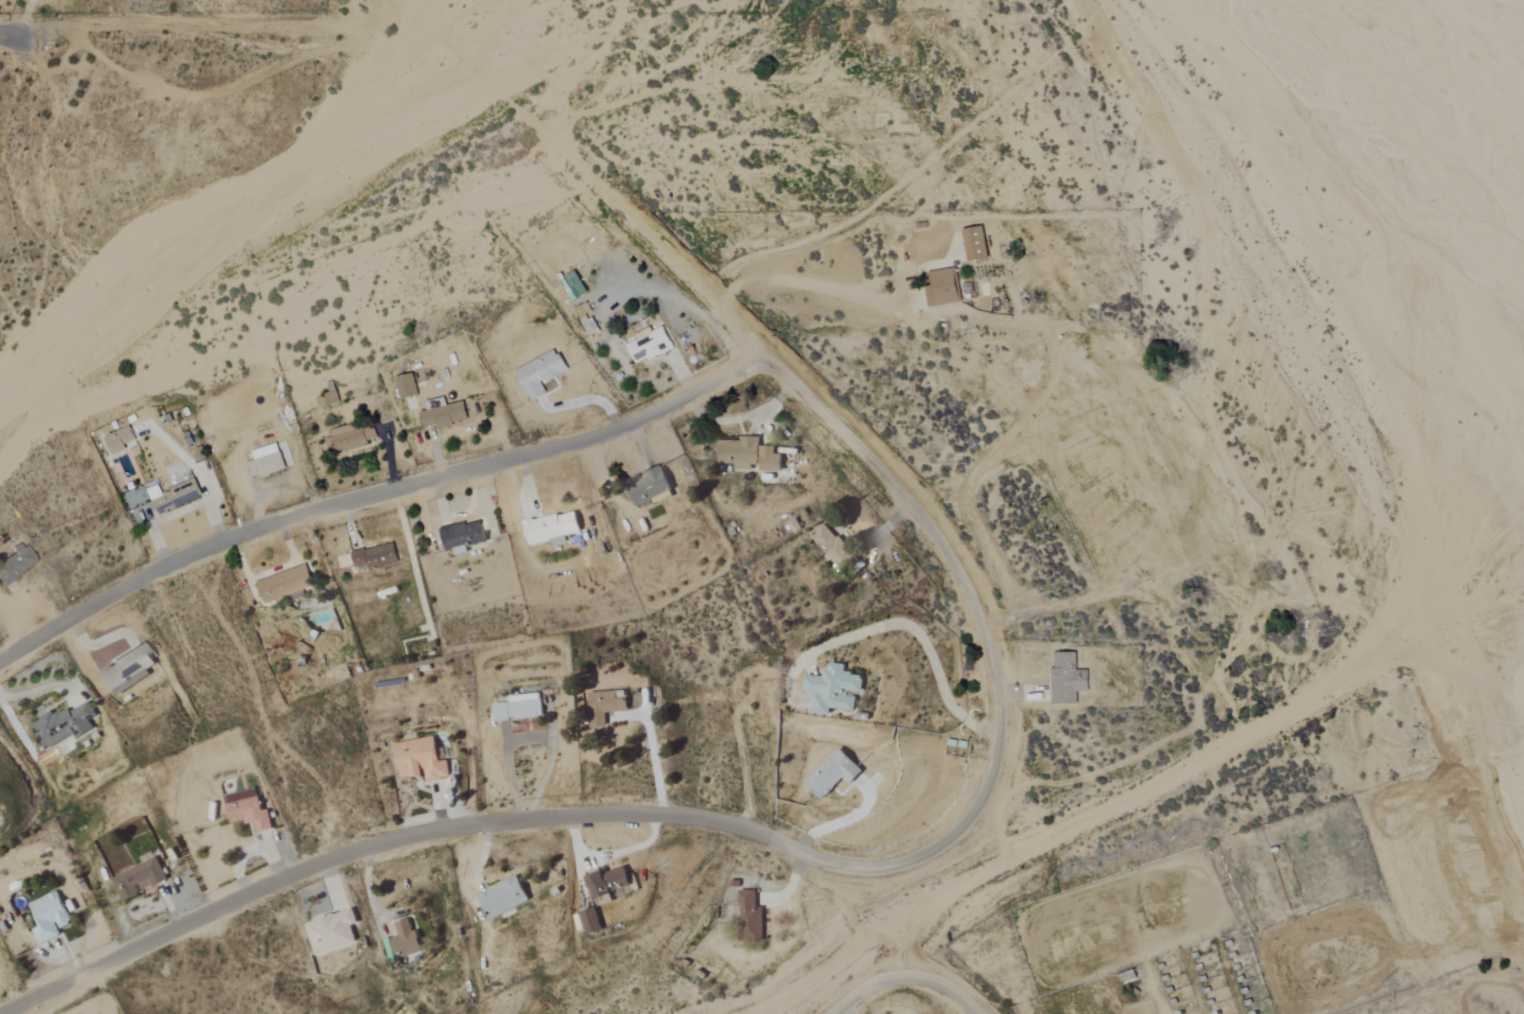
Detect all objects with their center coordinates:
road: (7, 35)
road: (510, 48)
river: (1471, 64)
park: (843, 106)
building: (976, 243)
road: (663, 253)
road: (796, 283)
building: (574, 286)
building: (942, 287)
building: (583, 309)
building: (589, 325)
building: (649, 345)
building: (541, 373)
building: (407, 386)
building: (328, 396)
building: (444, 413)
building: (350, 436)
building: (120, 440)
building: (749, 455)
building: (265, 465)
park: (1016, 465)
road: (196, 472)
building: (650, 488)
building: (174, 496)
road: (376, 496)
road: (156, 521)
building: (551, 528)
building: (462, 537)
building: (833, 548)
building: (375, 557)
building: (15, 563)
building: (285, 583)
road: (971, 602)
road: (920, 638)
building: (127, 670)
building: (1068, 679)
building: (833, 689)
building: (607, 703)
building: (520, 708)
building: (65, 724)
road: (529, 737)
building: (421, 760)
road: (652, 765)
building: (833, 774)
building: (248, 810)
road: (433, 832)
building: (139, 879)
building: (608, 885)
building: (503, 898)
building: (49, 917)
building: (750, 917)
building: (590, 922)
building: (331, 932)
building: (406, 940)
road: (866, 987)
road: (945, 987)

